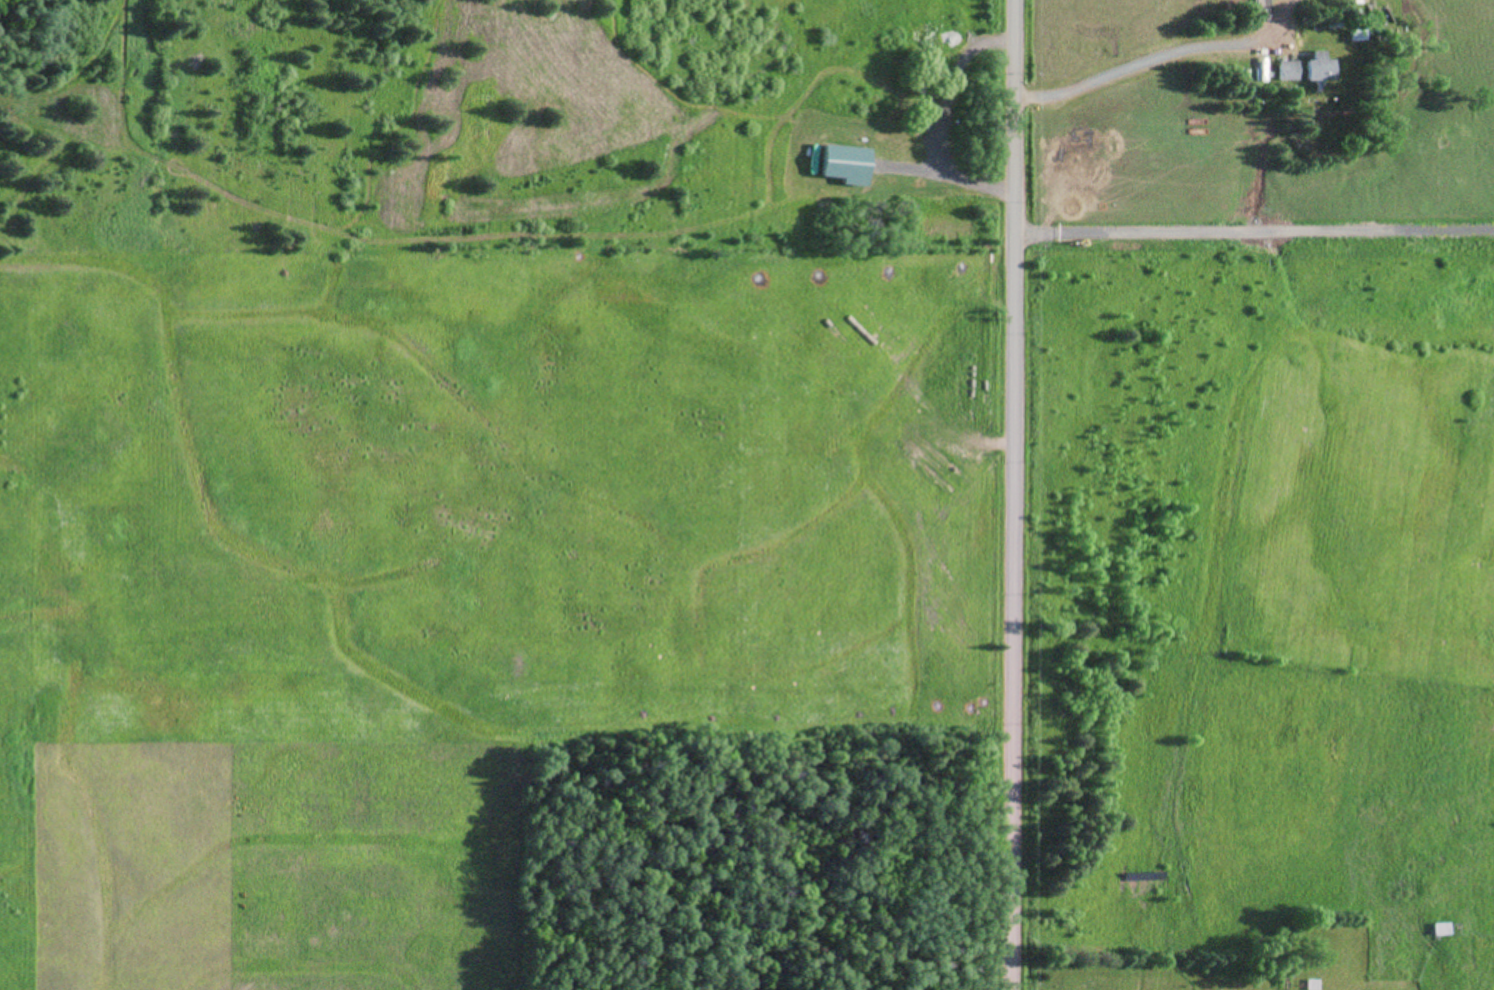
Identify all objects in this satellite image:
building: (1311, 68)
building: (1282, 70)
road: (1012, 495)
crop: (1253, 496)
crop: (448, 572)
building: (1438, 929)

